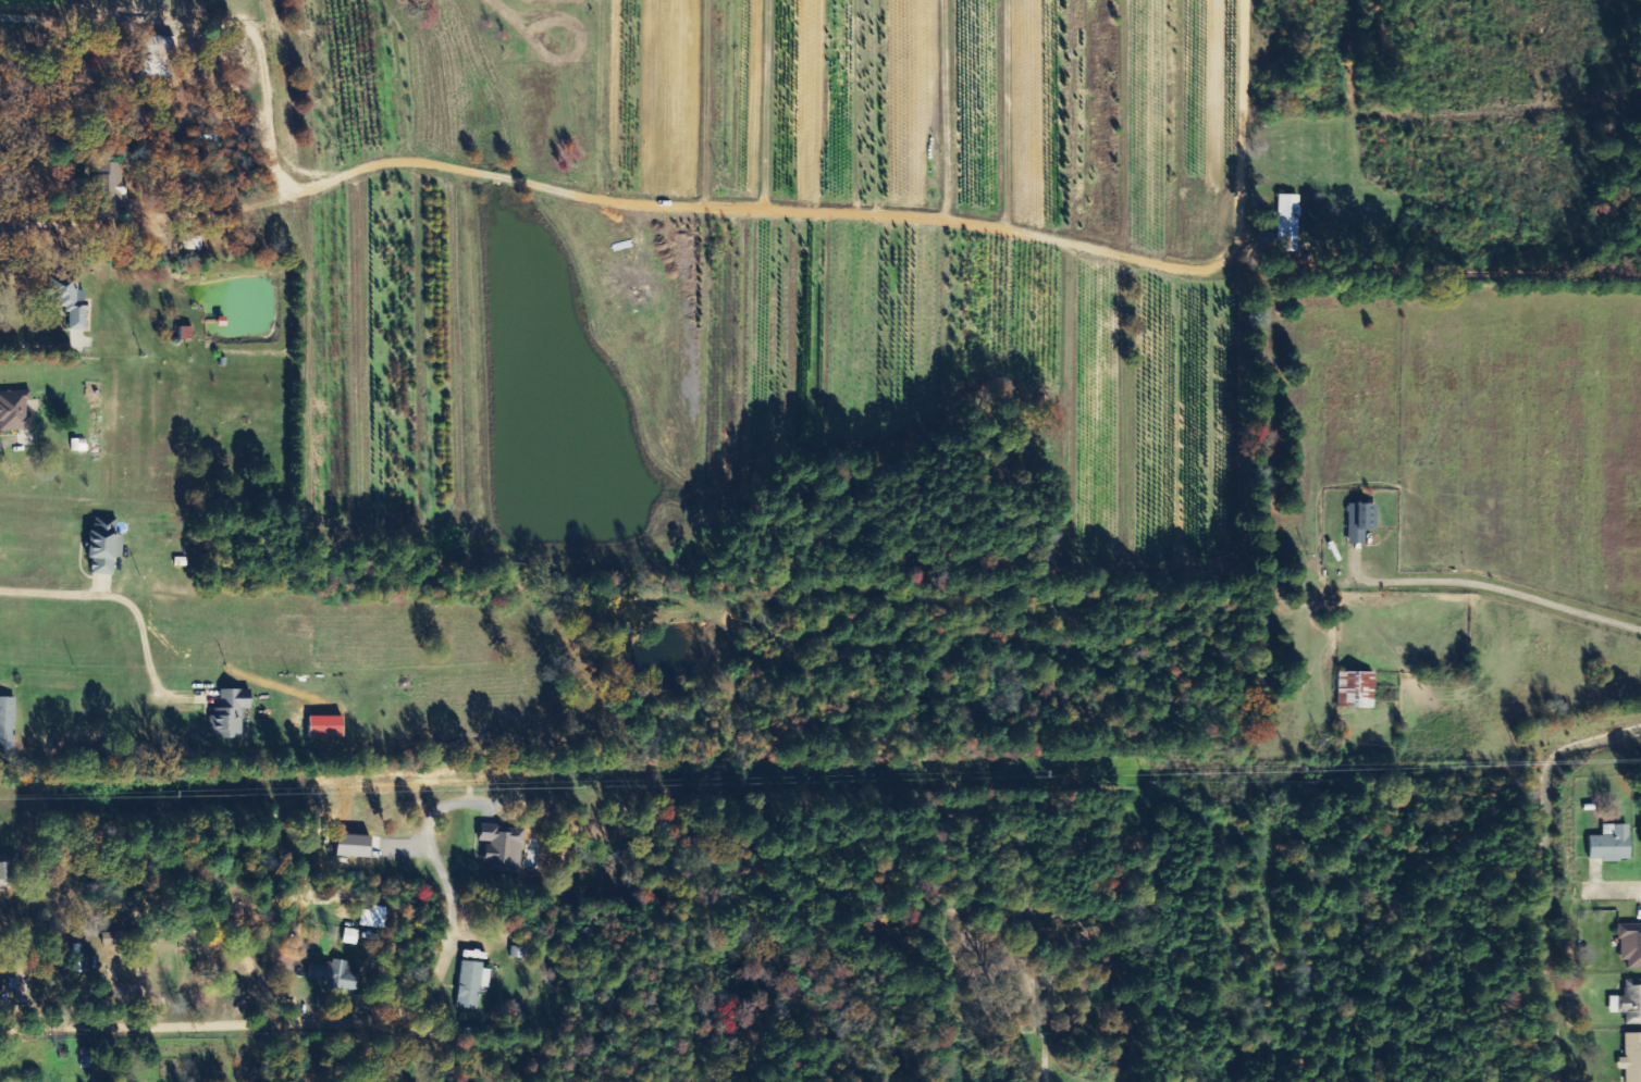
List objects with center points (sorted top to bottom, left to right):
building: (157, 57)
building: (110, 190)
building: (1288, 224)
building: (71, 302)
building: (185, 334)
building: (15, 411)
building: (1361, 523)
building: (104, 548)
building: (1356, 689)
building: (230, 714)
building: (7, 725)
building: (1612, 845)
building: (354, 846)
building: (504, 848)
building: (5, 875)
road: (1614, 891)
road: (314, 903)
building: (371, 919)
building: (350, 936)
building: (1630, 945)
building: (337, 974)
building: (472, 984)
building: (1629, 1003)
building: (86, 1058)
building: (1632, 1058)

